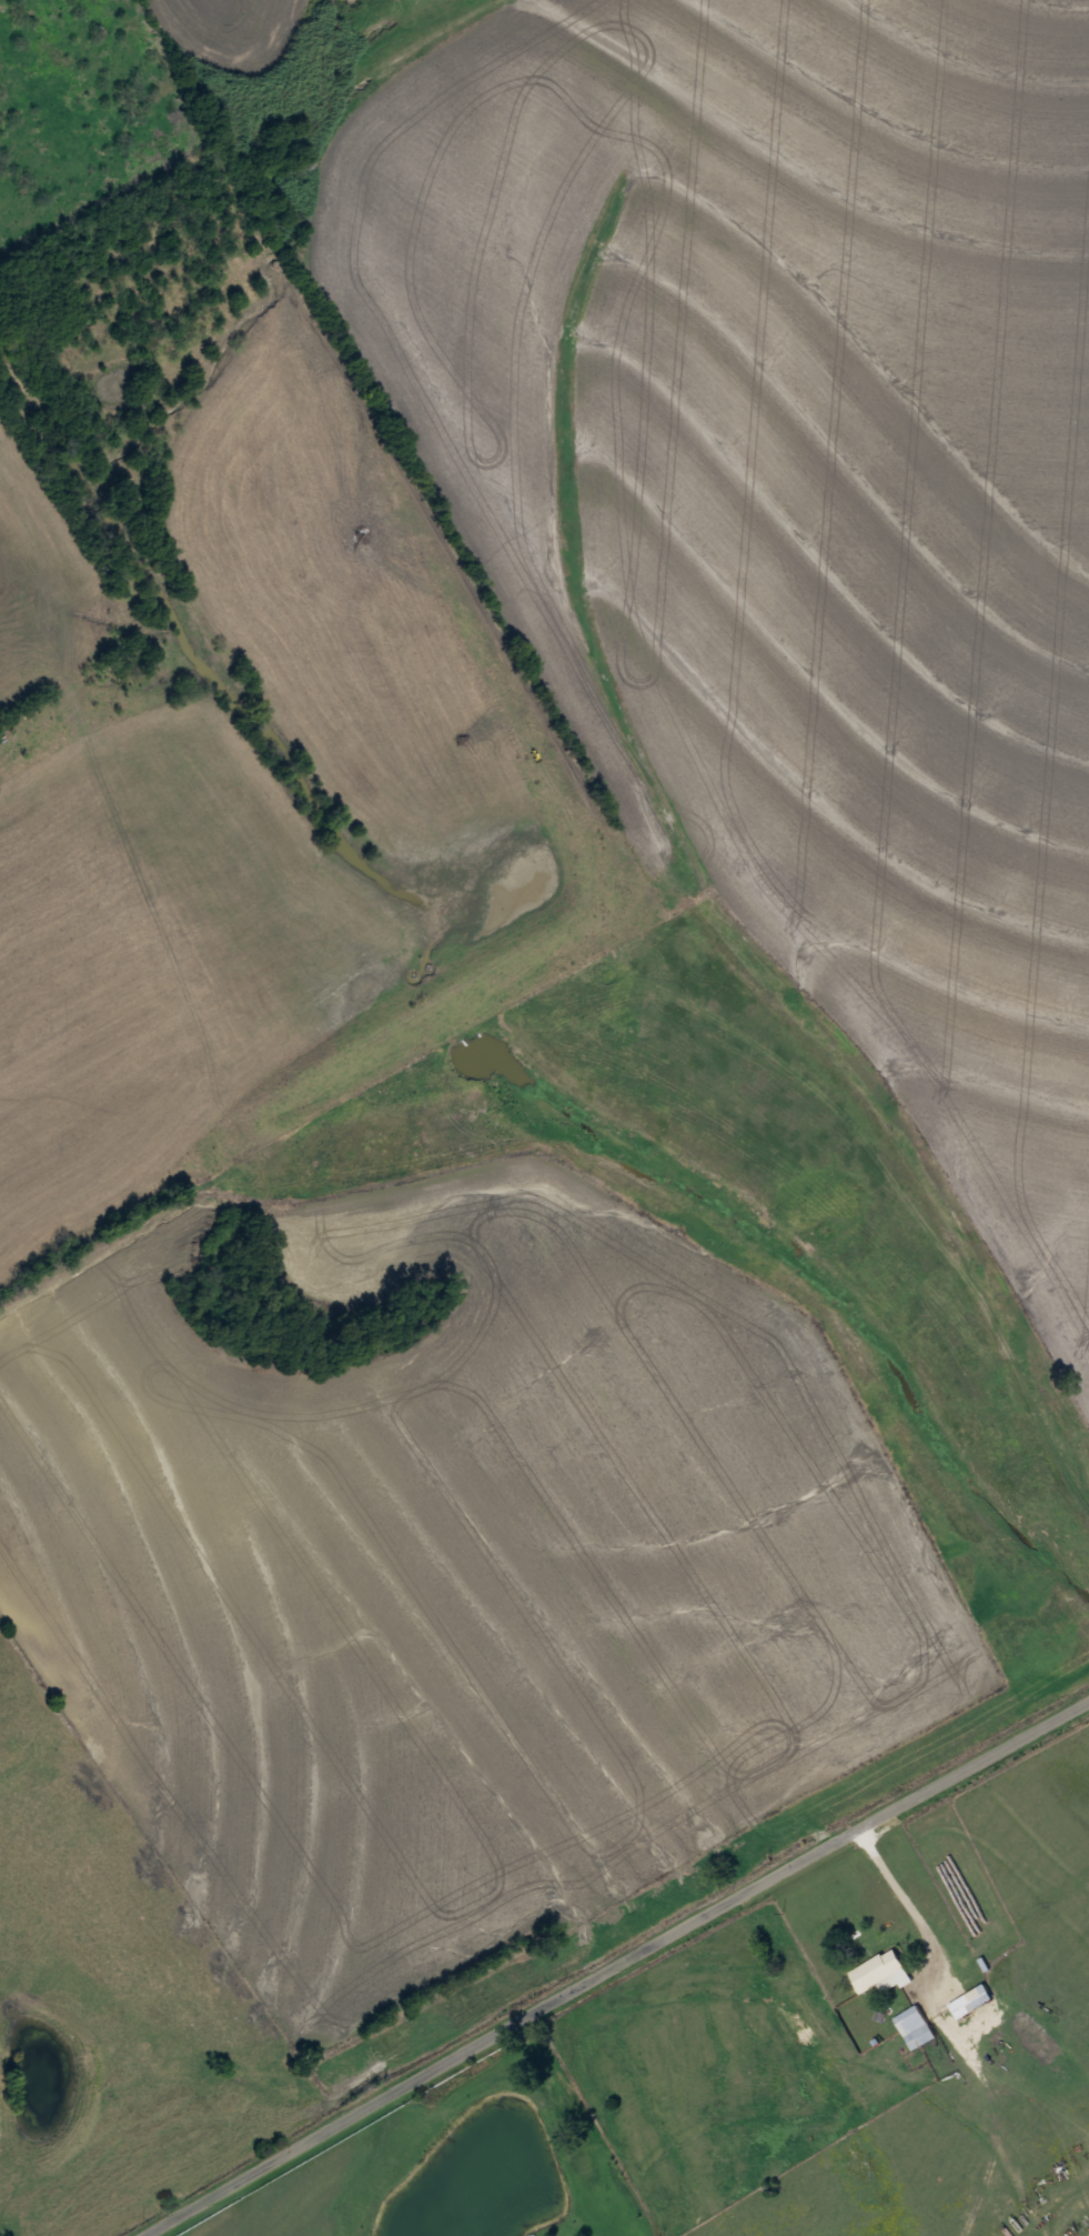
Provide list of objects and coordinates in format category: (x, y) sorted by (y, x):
road: (619, 1967)
building: (878, 1969)
building: (919, 2025)

